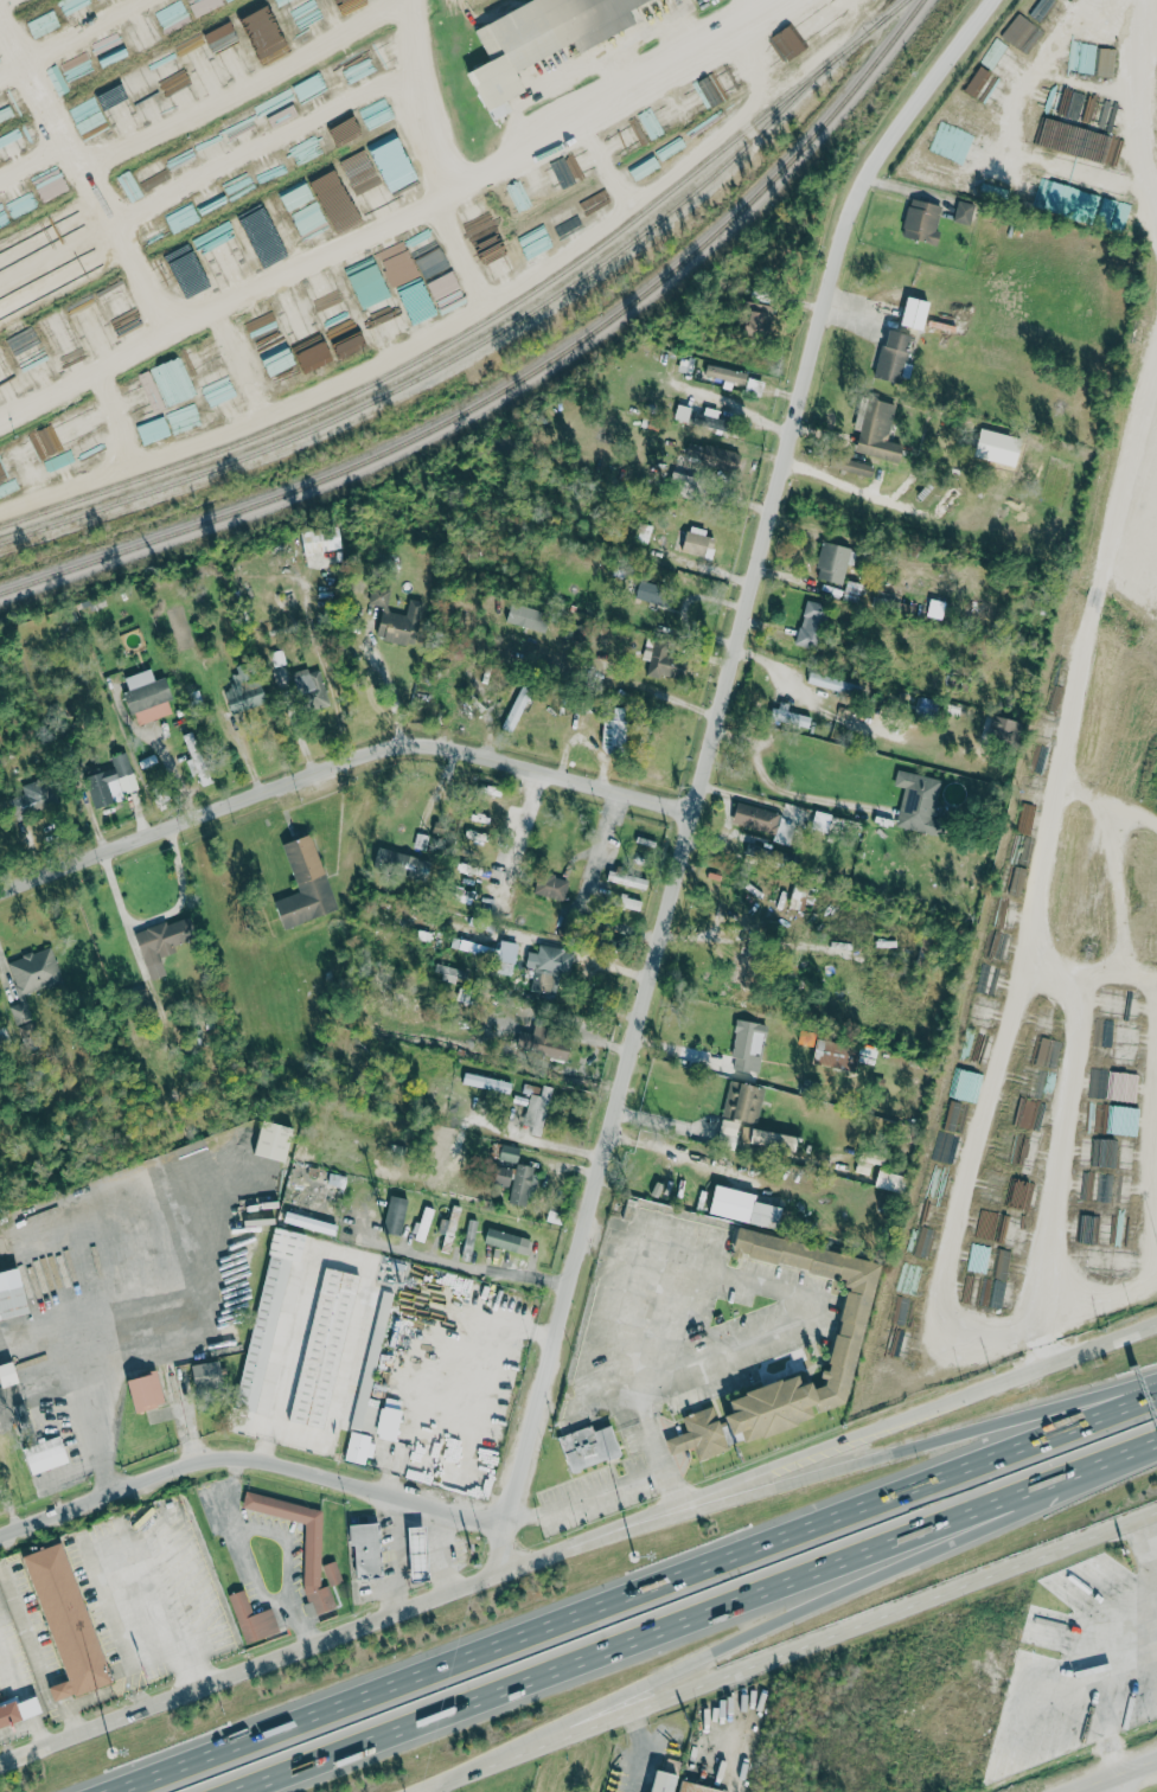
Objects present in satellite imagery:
building: (826, 15)
building: (43, 24)
road: (441, 25)
road: (108, 31)
building: (1021, 32)
building: (151, 34)
building: (268, 36)
building: (542, 40)
building: (788, 43)
building: (1106, 63)
road: (21, 75)
building: (984, 85)
road: (1137, 95)
building: (146, 96)
road: (600, 102)
road: (441, 120)
building: (945, 136)
building: (396, 167)
road: (84, 168)
building: (645, 168)
road: (220, 169)
building: (296, 198)
building: (20, 204)
building: (965, 212)
building: (257, 220)
building: (922, 222)
building: (219, 248)
road: (441, 249)
building: (370, 284)
road: (220, 295)
building: (918, 313)
building: (337, 316)
building: (760, 319)
building: (58, 332)
railway: (491, 335)
railway: (420, 353)
building: (895, 357)
road: (219, 370)
building: (727, 375)
railway: (517, 380)
building: (755, 386)
road: (110, 389)
building: (684, 412)
road: (736, 412)
building: (711, 420)
building: (153, 430)
building: (877, 430)
building: (59, 436)
building: (711, 456)
building: (858, 467)
building: (320, 543)
building: (699, 543)
building: (835, 563)
building: (1140, 581)
building: (651, 591)
building: (381, 594)
building: (85, 613)
building: (530, 617)
building: (404, 625)
building: (812, 626)
road: (1105, 634)
building: (667, 661)
building: (827, 680)
building: (307, 683)
building: (244, 690)
road: (391, 695)
building: (148, 697)
building: (518, 709)
building: (1004, 730)
building: (615, 732)
road: (717, 741)
building: (196, 757)
road: (343, 767)
road: (173, 774)
building: (111, 782)
road: (778, 788)
building: (921, 804)
building: (758, 818)
building: (823, 819)
road: (519, 832)
building: (395, 862)
building: (628, 881)
building: (307, 884)
building: (552, 887)
building: (165, 942)
building: (509, 951)
building: (550, 967)
building: (33, 969)
building: (447, 972)
building: (544, 1042)
building: (749, 1045)
building: (837, 1054)
building: (487, 1082)
building: (740, 1108)
building: (775, 1139)
building: (276, 1140)
road: (1059, 1141)
road: (545, 1143)
building: (510, 1152)
road: (671, 1152)
building: (869, 1161)
building: (891, 1180)
building: (516, 1182)
building: (1099, 1186)
building: (747, 1207)
building: (396, 1215)
building: (308, 1221)
building: (424, 1223)
building: (507, 1240)
road: (469, 1266)
building: (13, 1293)
building: (385, 1301)
building: (269, 1316)
building: (326, 1348)
building: (849, 1348)
building: (9, 1374)
building: (209, 1375)
road: (87, 1376)
road: (669, 1378)
building: (147, 1393)
road: (179, 1395)
building: (365, 1407)
building: (391, 1420)
building: (702, 1434)
road: (922, 1441)
building: (360, 1447)
building: (592, 1447)
building: (46, 1454)
road: (249, 1454)
road: (232, 1478)
road: (606, 1490)
building: (314, 1542)
road: (289, 1543)
road: (511, 1544)
road: (1149, 1545)
road: (577, 1548)
building: (369, 1551)
road: (256, 1588)
road: (635, 1595)
road: (835, 1598)
building: (254, 1619)
road: (704, 1619)
building: (52, 1637)
road: (793, 1655)
road: (1017, 1670)
road: (1119, 1777)
building: (665, 1781)
road: (1119, 1785)
road: (453, 1787)
building: (699, 1787)

